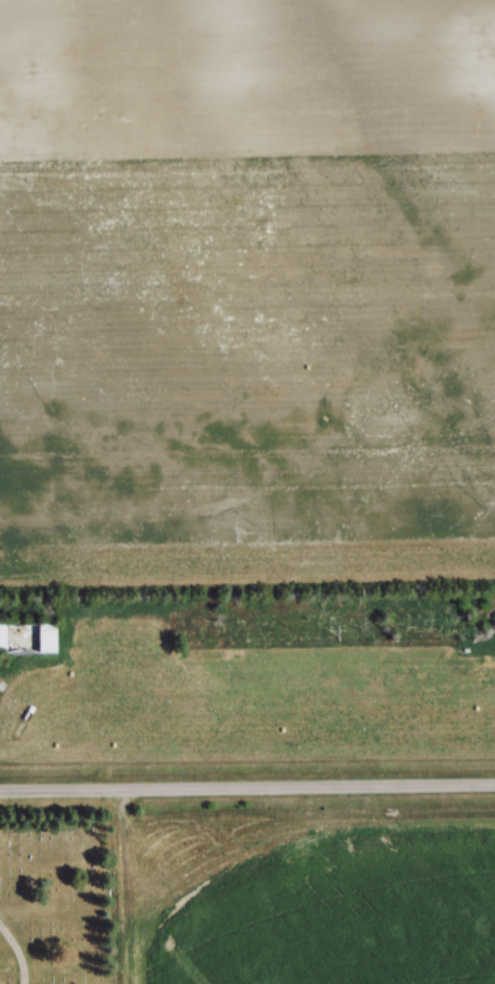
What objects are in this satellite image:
building: (27, 639)
road: (247, 787)
road: (19, 951)

